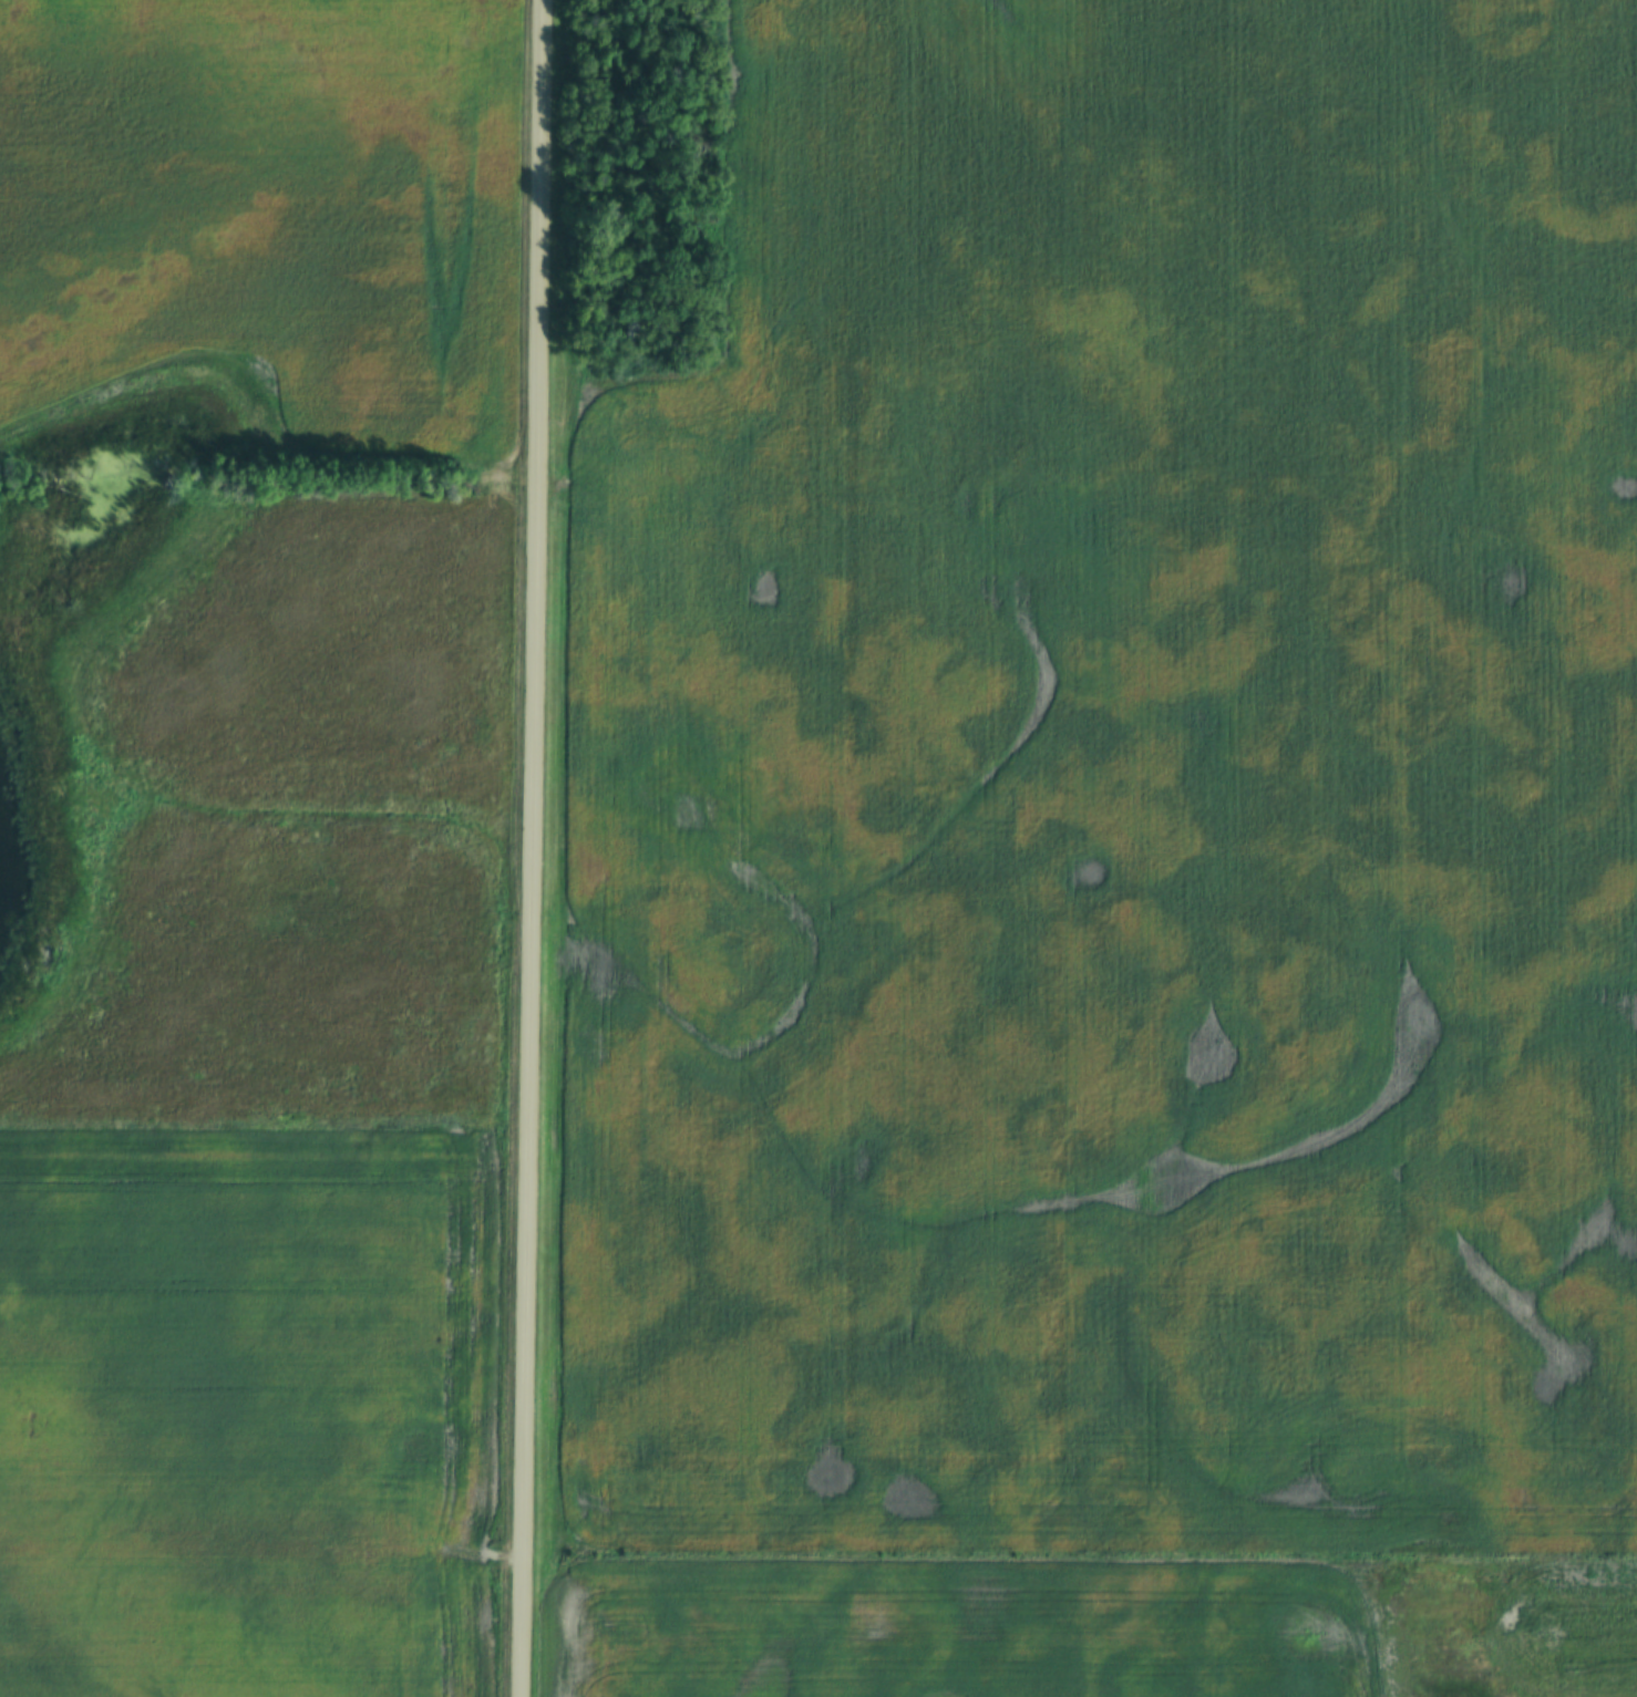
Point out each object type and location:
road: (536, 848)

